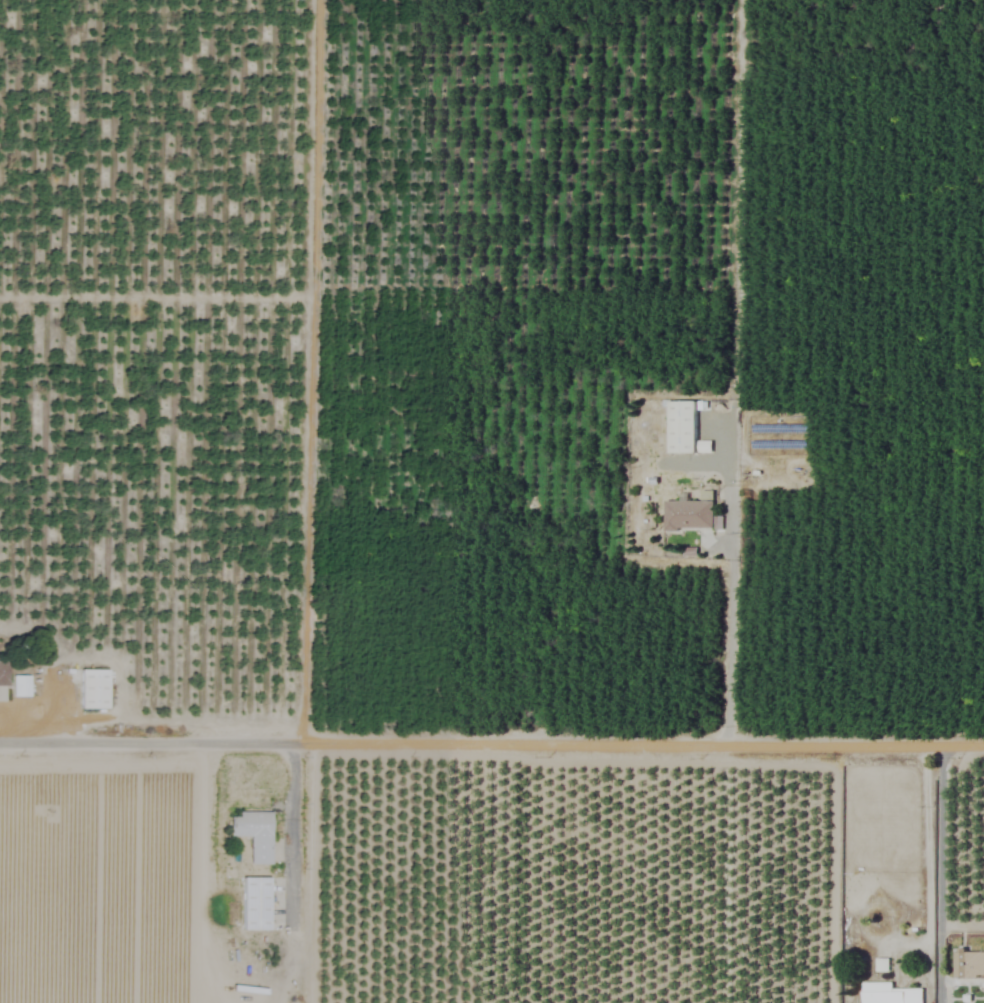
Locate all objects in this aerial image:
building: (682, 427)
crop: (492, 501)
building: (688, 515)
road: (729, 632)
road: (492, 742)
building: (252, 834)
road: (293, 873)
road: (934, 873)

